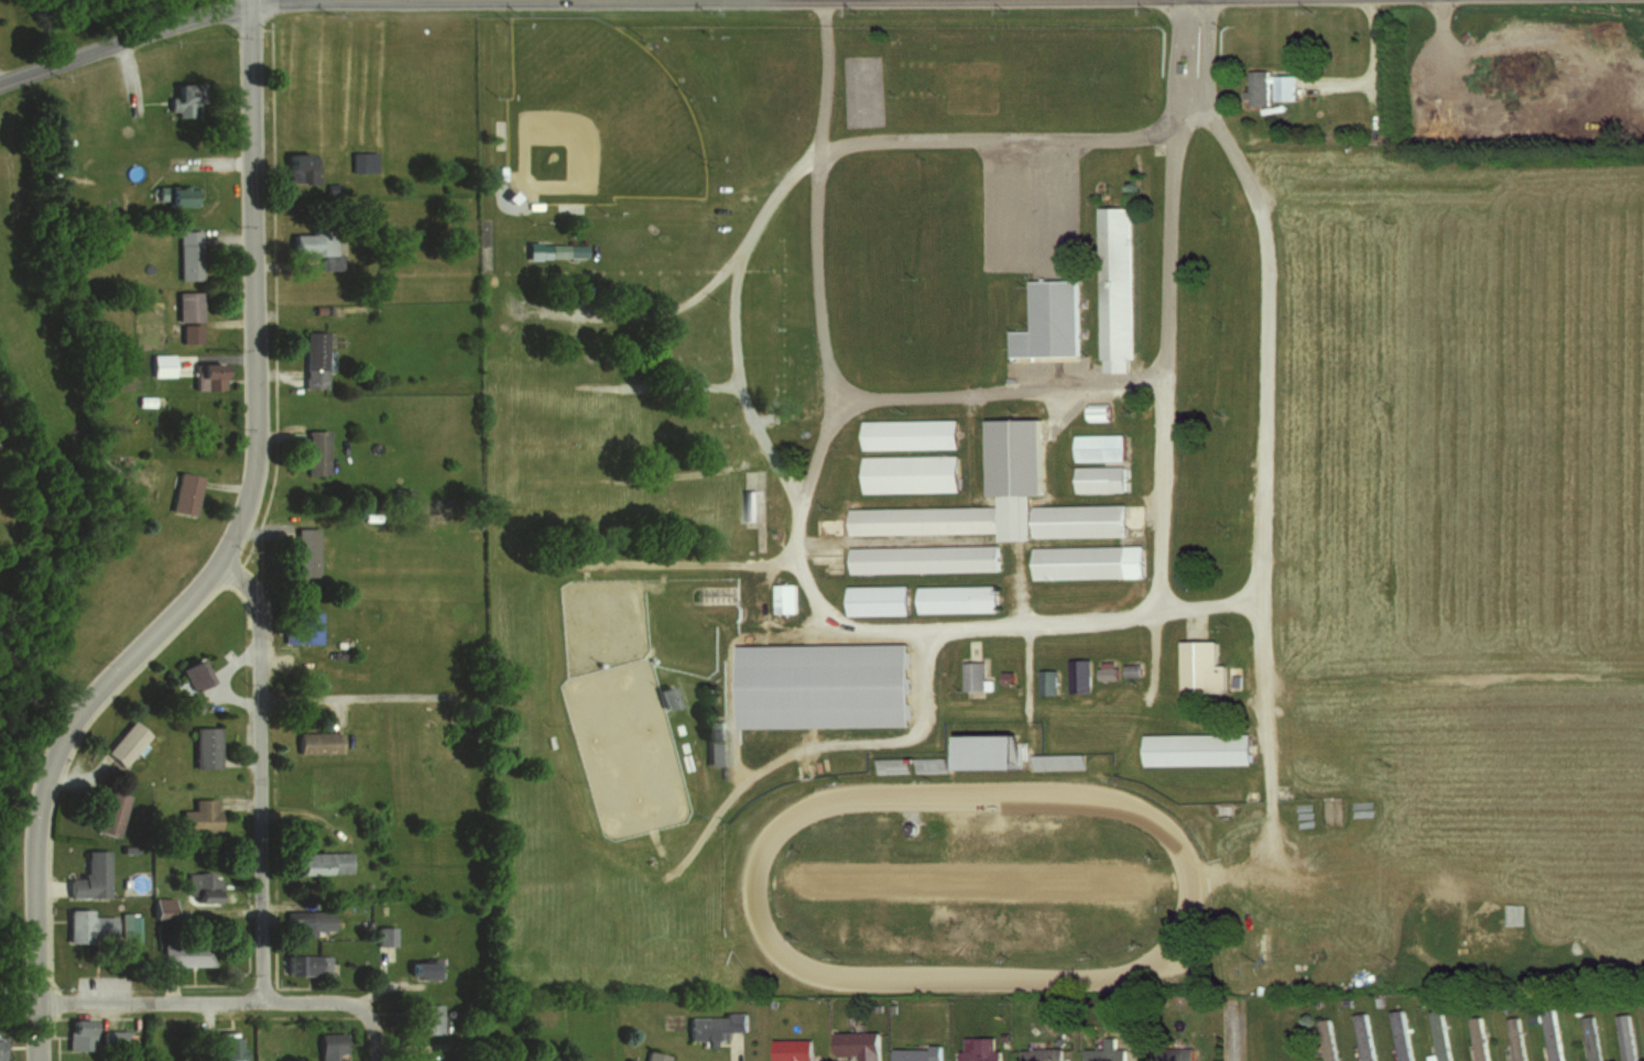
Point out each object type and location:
road: (378, 0)
road: (250, 1)
road: (252, 1)
road: (124, 41)
landfill: (1524, 77)
building: (1270, 87)
building: (181, 99)
park: (597, 119)
road: (999, 140)
building: (364, 161)
building: (297, 167)
building: (168, 195)
building: (309, 244)
building: (555, 251)
building: (187, 255)
building: (1117, 288)
road: (275, 297)
building: (185, 307)
building: (1049, 320)
building: (187, 333)
road: (1167, 342)
building: (312, 359)
building: (159, 365)
road: (276, 373)
building: (206, 375)
building: (853, 380)
building: (799, 381)
road: (1000, 391)
building: (908, 434)
building: (1099, 447)
building: (314, 451)
building: (1055, 453)
building: (1013, 457)
wastewater plant: (7, 460)
building: (908, 473)
building: (1100, 479)
building: (183, 494)
building: (922, 519)
building: (1078, 521)
building: (304, 553)
building: (924, 558)
building: (1087, 562)
road: (224, 564)
building: (877, 597)
building: (784, 598)
building: (957, 598)
road: (1042, 625)
building: (301, 627)
building: (1060, 638)
building: (508, 650)
building: (1208, 668)
building: (1109, 669)
building: (190, 675)
building: (1079, 675)
building: (972, 676)
building: (820, 686)
road: (337, 697)
building: (315, 743)
building: (122, 744)
building: (202, 748)
building: (1196, 750)
building: (714, 753)
building: (983, 753)
building: (1058, 762)
building: (891, 765)
road: (765, 768)
road: (258, 776)
building: (109, 813)
building: (197, 816)
building: (320, 862)
building: (87, 876)
building: (199, 887)
building: (159, 907)
building: (305, 921)
building: (77, 925)
building: (382, 934)
building: (185, 953)
building: (304, 963)
building: (421, 967)
road: (203, 1002)
building: (1114, 1015)
building: (1532, 1016)
building: (422, 1017)
building: (711, 1025)
building: (78, 1033)
building: (1400, 1035)
building: (1549, 1035)
road: (375, 1036)
building: (1362, 1036)
building: (1624, 1037)
road: (1238, 1038)
building: (1438, 1038)
building: (1477, 1038)
building: (1514, 1038)
building: (1589, 1038)
building: (1326, 1039)
building: (857, 1043)
building: (328, 1046)
building: (225, 1048)
building: (0, 1049)
building: (791, 1049)
building: (978, 1049)
building: (1106, 1051)
building: (915, 1053)
building: (1041, 1053)
building: (1172, 1053)
building: (652, 1055)

